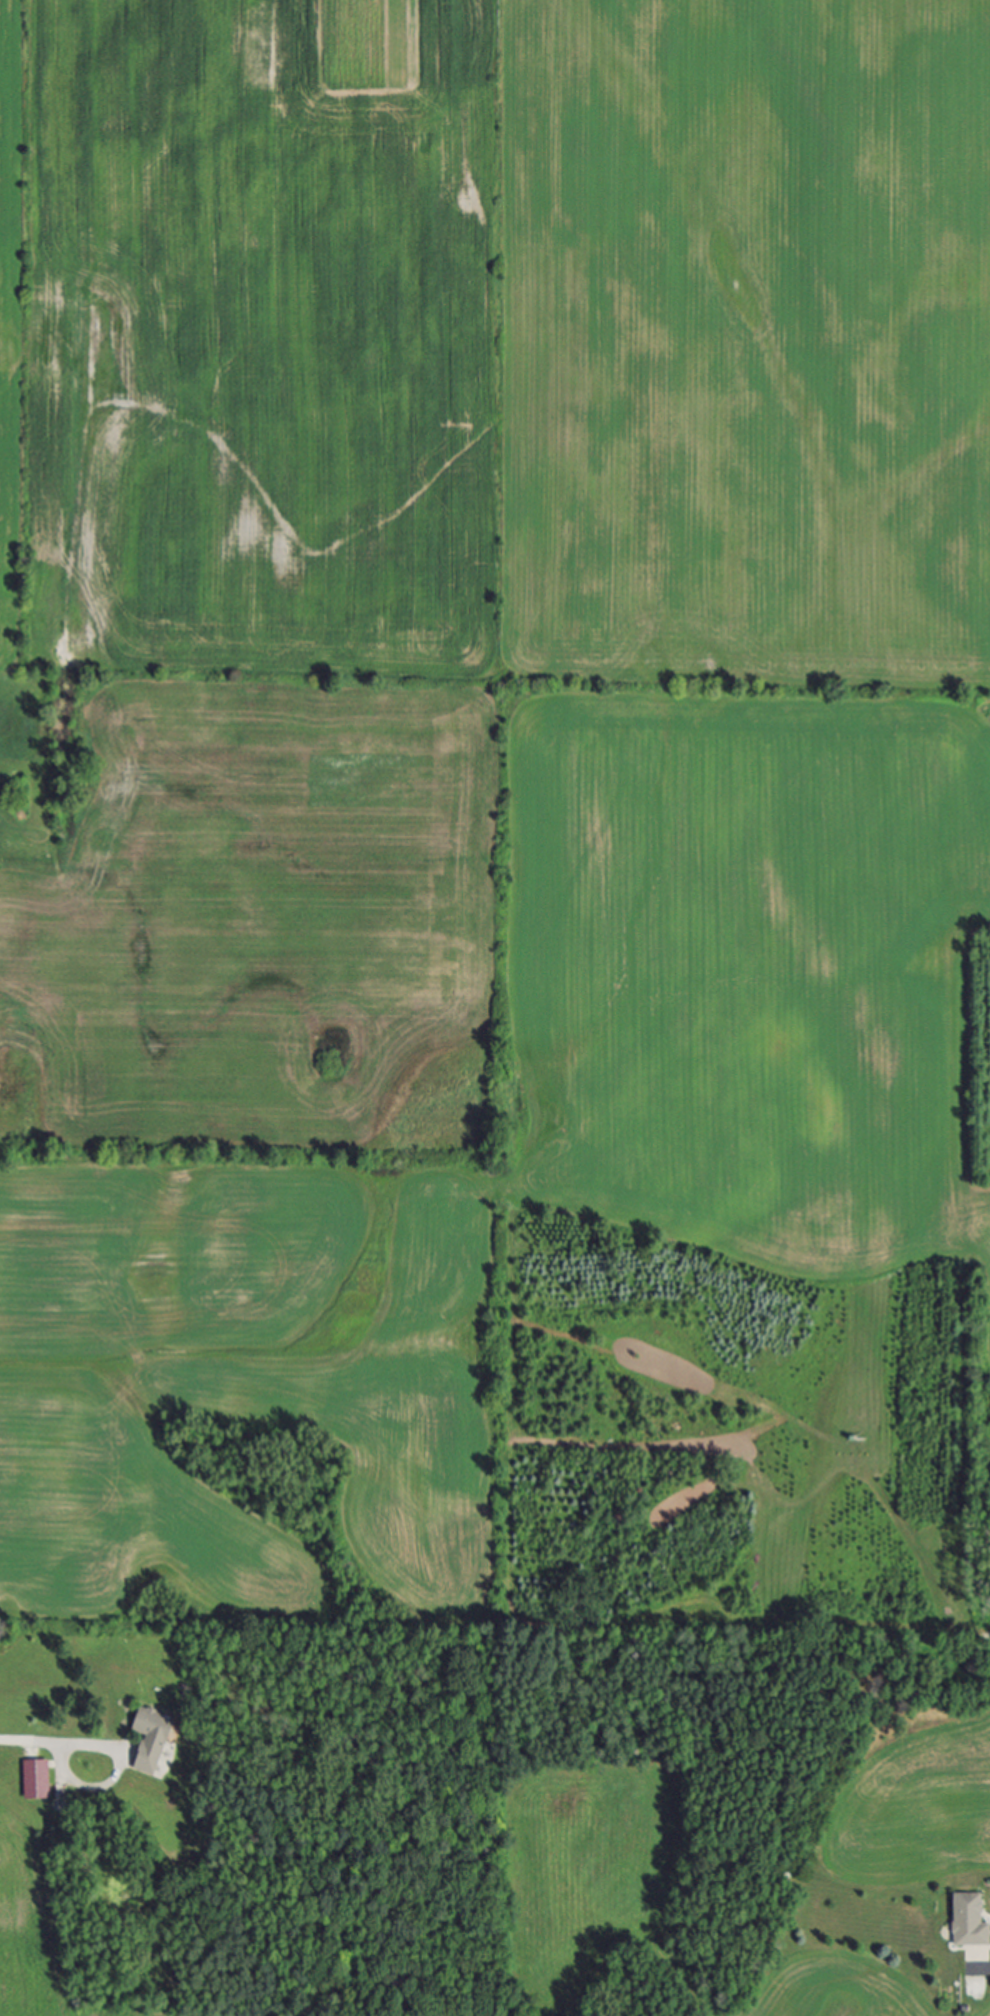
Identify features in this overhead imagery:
building: (155, 1741)
road: (31, 1742)
road: (113, 1777)
building: (39, 1779)
building: (970, 1922)
road: (981, 1967)

